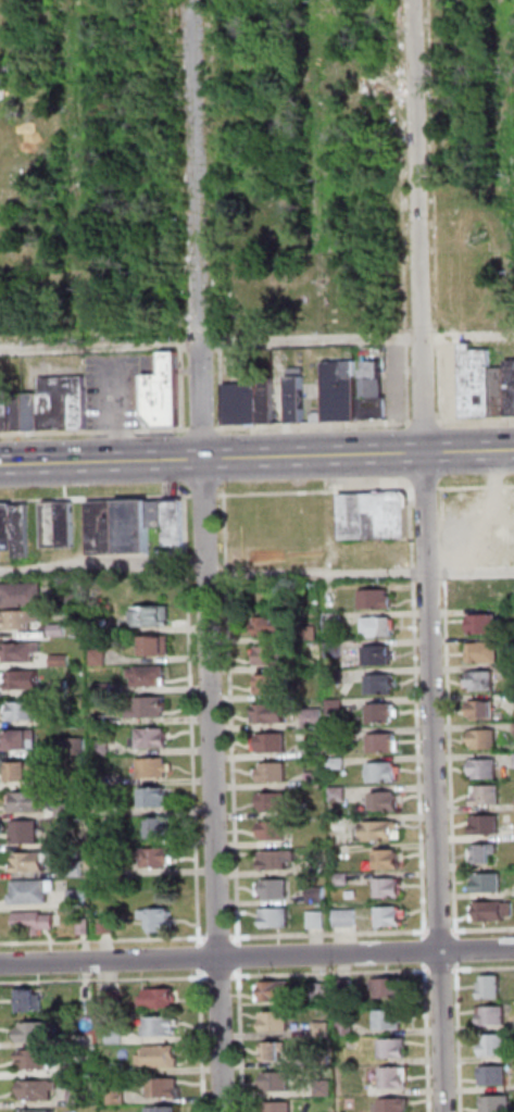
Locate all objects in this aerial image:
building: (3, 71)
building: (239, 134)
road: (396, 166)
road: (430, 212)
road: (256, 342)
road: (409, 376)
building: (476, 384)
road: (224, 386)
parking lot: (116, 392)
building: (166, 392)
building: (341, 393)
building: (374, 393)
building: (299, 396)
building: (268, 400)
building: (245, 403)
building: (66, 404)
building: (7, 412)
road: (120, 412)
building: (22, 413)
building: (37, 413)
road: (476, 421)
road: (427, 422)
road: (316, 425)
road: (205, 429)
road: (97, 432)
road: (256, 458)
road: (477, 487)
road: (428, 488)
road: (318, 491)
road: (208, 496)
road: (97, 498)
building: (477, 512)
building: (159, 514)
building: (376, 514)
building: (176, 523)
building: (53, 525)
building: (68, 525)
building: (10, 526)
building: (137, 526)
building: (1, 527)
building: (106, 527)
building: (24, 530)
road: (211, 555)
road: (429, 555)
road: (105, 569)
road: (362, 573)
building: (25, 592)
building: (481, 594)
building: (76, 596)
building: (377, 599)
building: (155, 615)
building: (23, 619)
building: (337, 621)
building: (485, 624)
building: (100, 625)
building: (272, 625)
building: (379, 625)
building: (61, 630)
building: (311, 633)
building: (156, 645)
building: (337, 649)
building: (23, 651)
building: (486, 652)
building: (274, 654)
building: (379, 655)
building: (100, 657)
building: (63, 661)
building: (511, 671)
building: (151, 674)
building: (337, 676)
building: (24, 679)
building: (482, 680)
building: (273, 684)
building: (383, 684)
building: (63, 687)
building: (105, 688)
building: (337, 705)
building: (150, 707)
building: (482, 710)
building: (26, 711)
building: (384, 712)
road: (419, 712)
road: (451, 712)
building: (273, 713)
building: (315, 717)
building: (102, 720)
road: (234, 720)
road: (195, 721)
building: (154, 737)
building: (23, 739)
building: (486, 739)
building: (272, 742)
building: (385, 742)
building: (80, 746)
building: (104, 747)
building: (314, 749)
building: (339, 762)
building: (155, 767)
building: (486, 767)
building: (26, 769)
building: (385, 771)
building: (274, 772)
building: (315, 778)
building: (48, 782)
building: (341, 794)
building: (488, 795)
building: (155, 797)
building: (387, 801)
building: (30, 802)
building: (275, 802)
building: (105, 809)
building: (68, 810)
building: (341, 824)
building: (488, 824)
building: (160, 827)
building: (274, 830)
building: (381, 830)
building: (28, 833)
building: (72, 840)
building: (121, 840)
building: (485, 852)
building: (159, 858)
building: (279, 859)
building: (389, 859)
building: (35, 861)
building: (77, 869)
building: (121, 872)
building: (343, 879)
building: (490, 882)
building: (390, 887)
building: (275, 888)
building: (35, 890)
building: (318, 894)
building: (79, 897)
building: (493, 911)
building: (278, 916)
building: (391, 916)
building: (348, 917)
building: (161, 919)
building: (318, 919)
building: (36, 921)
building: (109, 925)
building: (86, 926)
road: (484, 929)
road: (441, 930)
road: (331, 934)
road: (222, 937)
road: (105, 940)
road: (427, 950)
road: (459, 950)
road: (256, 955)
road: (241, 957)
road: (202, 958)
road: (485, 969)
road: (442, 970)
road: (333, 972)
road: (222, 976)
road: (104, 980)
building: (348, 987)
building: (391, 987)
building: (492, 987)
building: (276, 990)
building: (323, 991)
building: (114, 998)
building: (161, 998)
building: (32, 1000)
building: (494, 1015)
building: (391, 1020)
building: (277, 1022)
building: (163, 1025)
building: (349, 1027)
building: (325, 1028)
building: (38, 1030)
building: (117, 1036)
road: (429, 1037)
road: (461, 1037)
road: (205, 1040)
road: (243, 1040)
building: (496, 1045)
building: (396, 1048)
building: (276, 1050)
building: (161, 1055)
building: (40, 1059)
building: (324, 1060)
building: (118, 1067)
building: (89, 1070)
building: (496, 1075)
building: (397, 1077)
building: (279, 1080)
building: (166, 1087)
building: (326, 1087)
building: (39, 1089)
building: (82, 1096)
building: (121, 1096)
building: (499, 1103)
building: (397, 1104)
building: (283, 1107)
building: (165, 1109)
building: (39, 1111)

